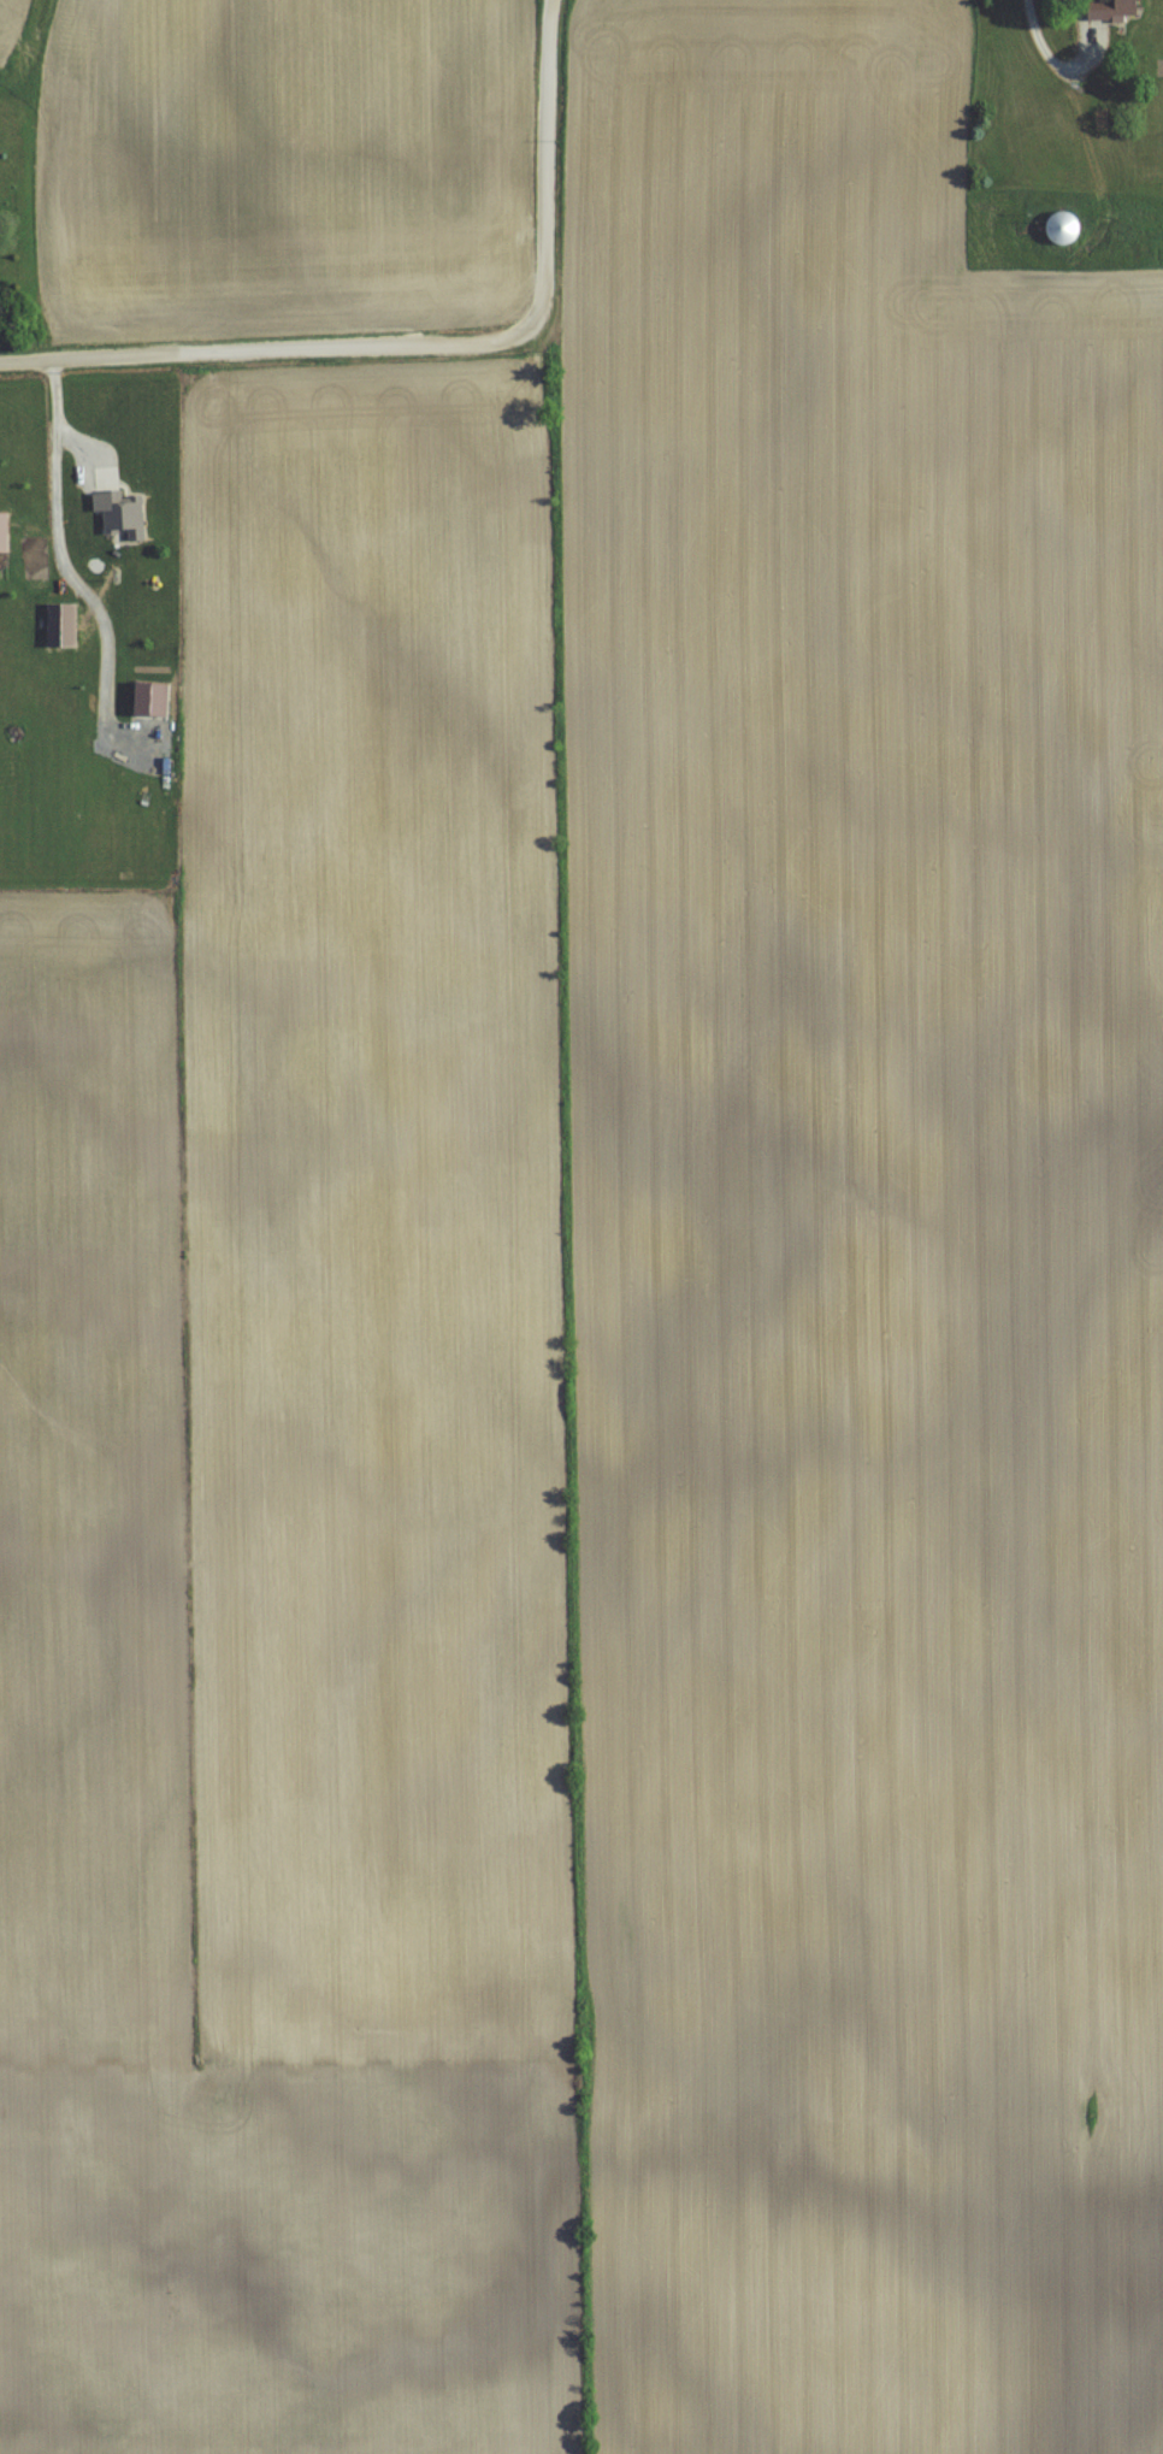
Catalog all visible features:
building: (1106, 8)
road: (1045, 58)
building: (1055, 225)
road: (429, 336)
building: (1, 531)
road: (67, 564)
building: (55, 624)

